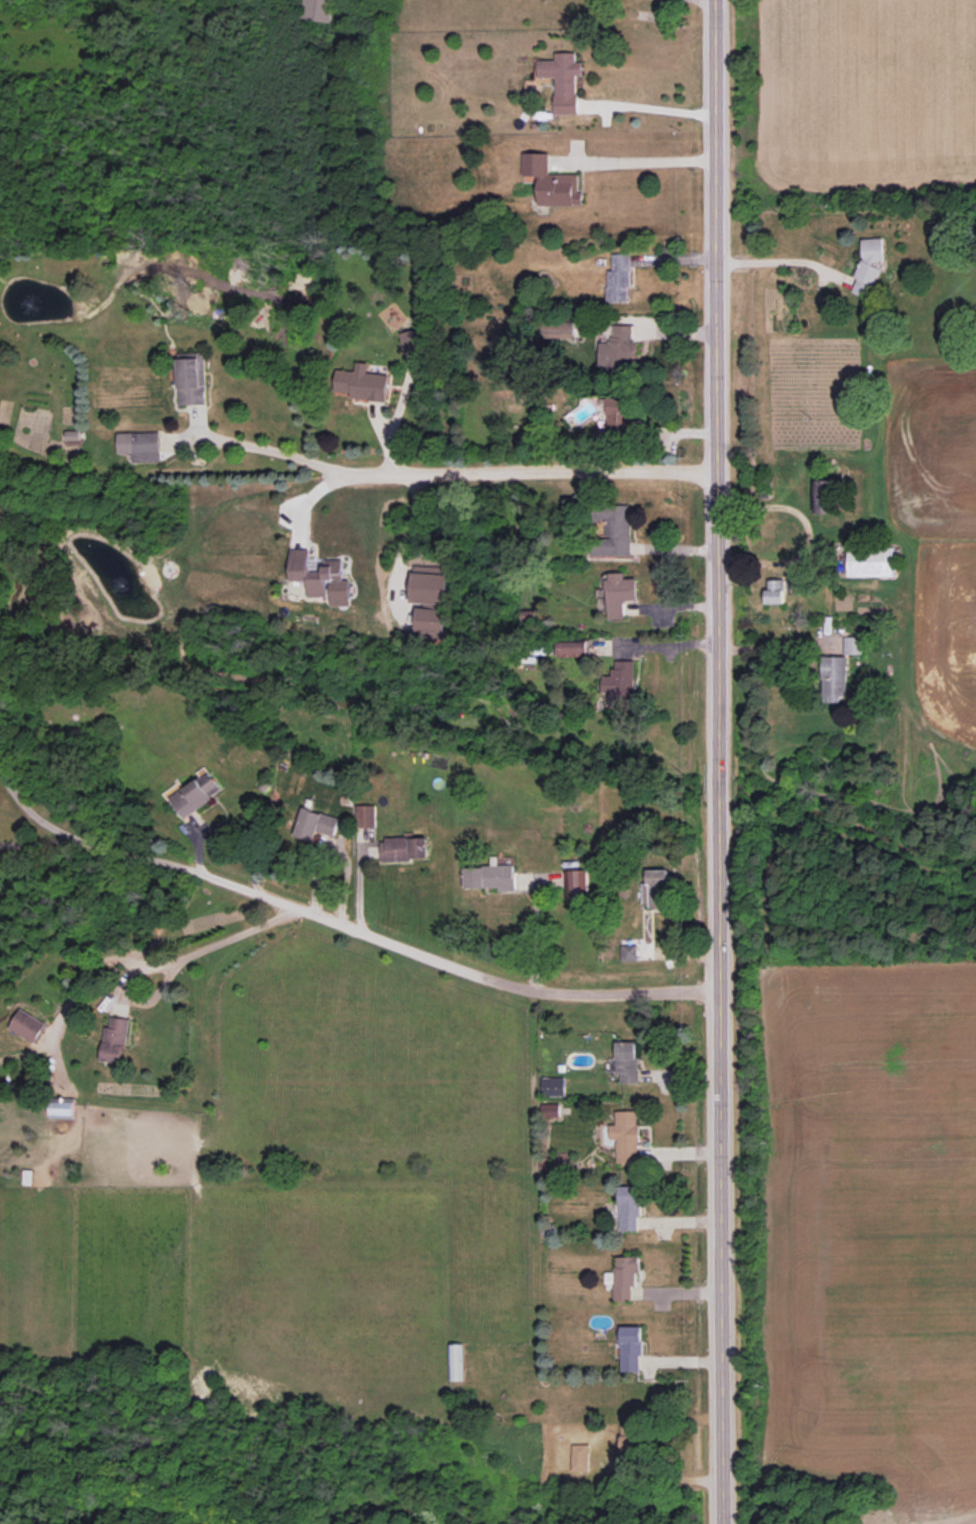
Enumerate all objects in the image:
building: (318, 10)
building: (563, 80)
road: (650, 107)
road: (638, 160)
building: (552, 181)
road: (777, 261)
building: (869, 266)
building: (618, 278)
building: (560, 329)
building: (410, 341)
building: (191, 380)
building: (362, 383)
building: (616, 414)
building: (72, 434)
building: (140, 446)
road: (269, 447)
road: (525, 471)
building: (824, 496)
building: (613, 531)
road: (809, 535)
road: (405, 538)
building: (870, 561)
building: (313, 572)
building: (429, 588)
building: (775, 591)
building: (340, 593)
building: (618, 593)
building: (431, 619)
road: (659, 644)
building: (853, 645)
building: (572, 649)
road: (771, 649)
building: (834, 679)
building: (620, 685)
road: (720, 761)
building: (195, 794)
building: (365, 815)
building: (316, 827)
road: (39, 841)
building: (404, 849)
building: (490, 877)
building: (578, 886)
building: (655, 889)
road: (348, 925)
road: (535, 939)
road: (206, 946)
building: (628, 952)
building: (28, 1025)
building: (114, 1040)
building: (627, 1061)
building: (553, 1086)
building: (62, 1109)
building: (551, 1110)
building: (626, 1136)
building: (629, 1208)
building: (624, 1277)
building: (631, 1348)
building: (456, 1362)
building: (580, 1457)

